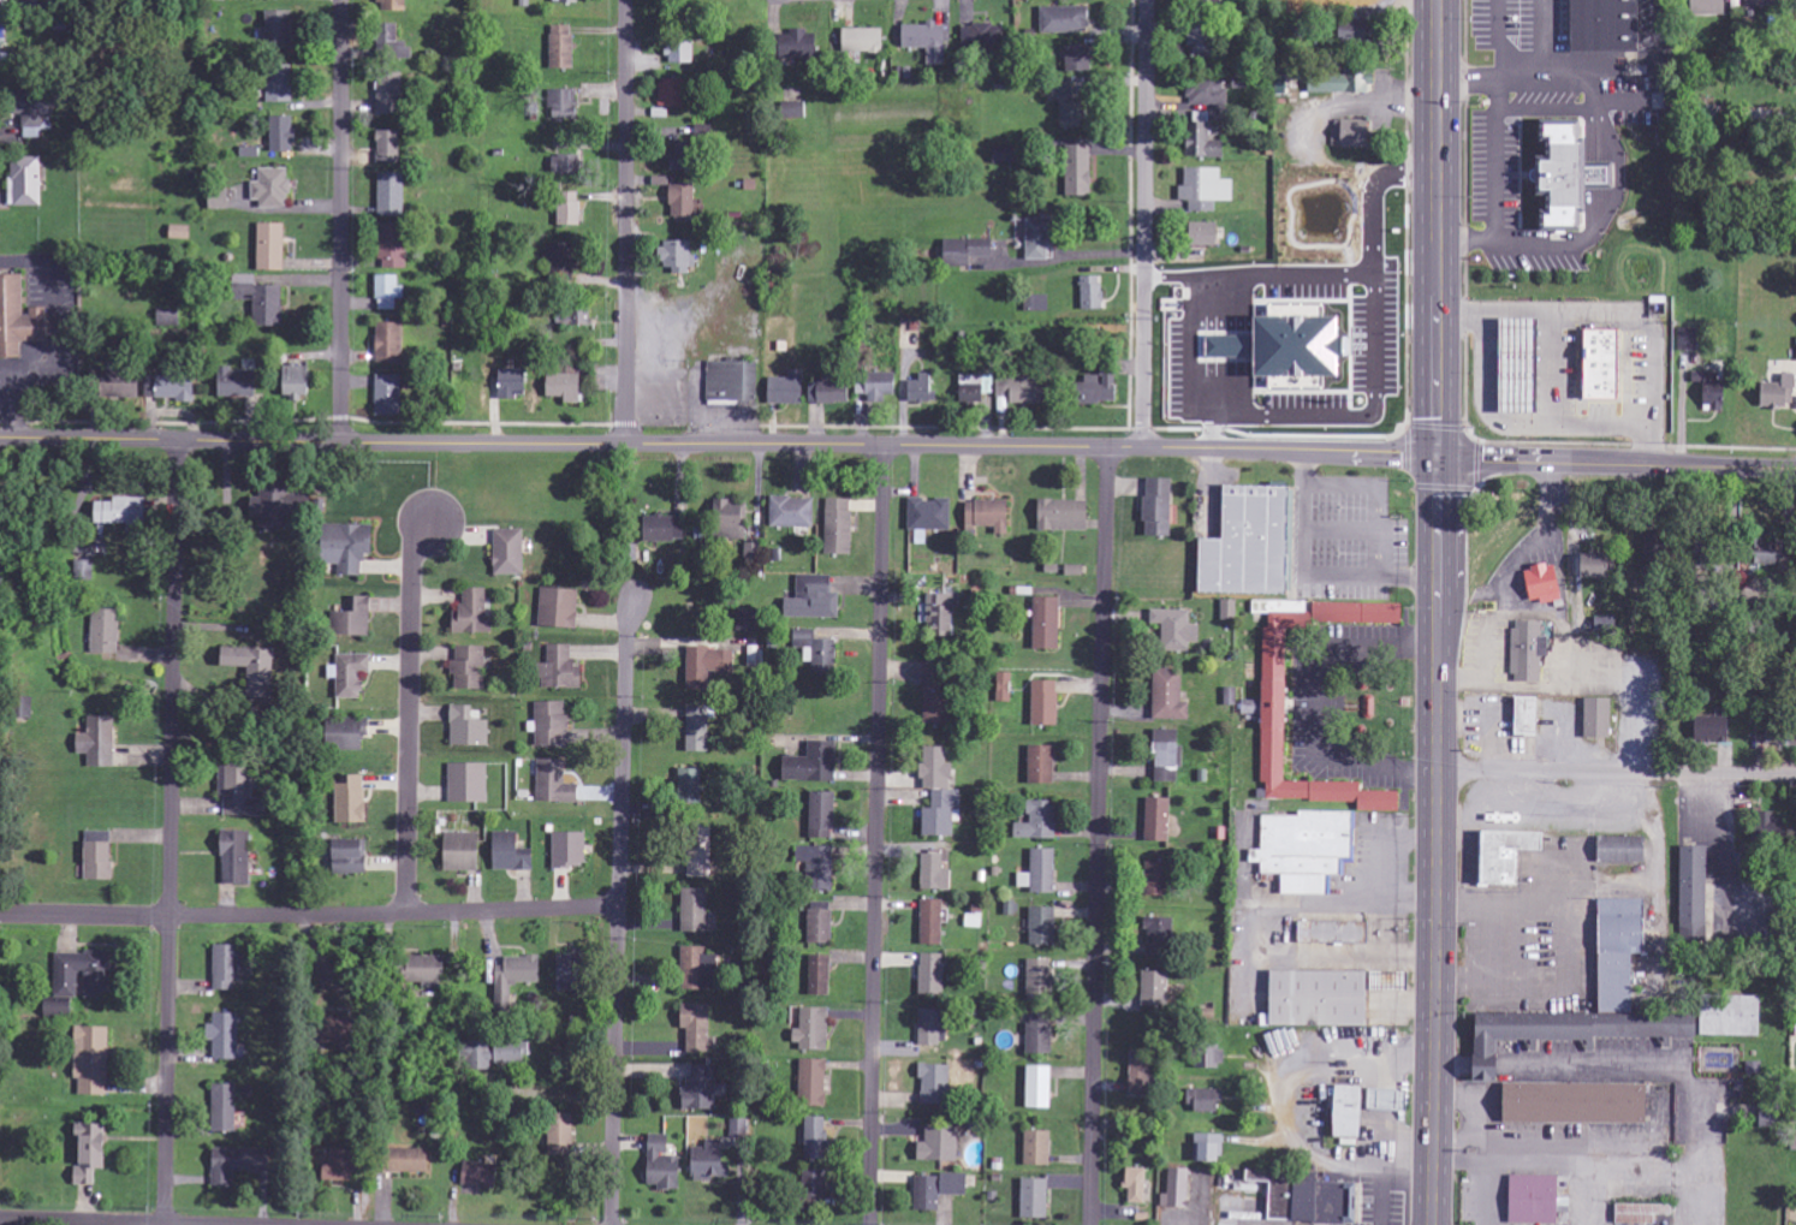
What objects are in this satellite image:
building: (697, 0)
building: (1202, 0)
building: (569, 1)
building: (5, 4)
building: (1752, 4)
building: (394, 6)
building: (1703, 7)
building: (1063, 20)
building: (280, 30)
building: (1348, 31)
building: (921, 34)
building: (985, 38)
building: (864, 40)
building: (394, 44)
building: (1197, 44)
building: (2, 48)
building: (563, 50)
building: (682, 54)
building: (1076, 58)
building: (1338, 82)
building: (281, 90)
building: (1203, 91)
building: (676, 95)
building: (389, 97)
building: (1064, 100)
building: (564, 107)
building: (797, 112)
building: (37, 113)
building: (1346, 133)
building: (283, 135)
building: (389, 148)
building: (1000, 154)
building: (685, 159)
building: (1075, 170)
building: (1558, 176)
building: (26, 183)
building: (273, 188)
building: (1203, 189)
building: (393, 195)
building: (685, 204)
building: (573, 214)
road: (339, 221)
road: (626, 222)
road: (1146, 224)
building: (182, 232)
building: (1201, 233)
building: (1034, 238)
building: (397, 245)
building: (272, 246)
building: (959, 251)
building: (680, 256)
building: (561, 260)
building: (389, 292)
building: (1088, 292)
building: (263, 302)
building: (1033, 303)
building: (19, 317)
building: (579, 317)
building: (170, 319)
building: (1684, 339)
building: (391, 343)
building: (1275, 346)
building: (1795, 347)
building: (1594, 364)
building: (1510, 365)
building: (299, 381)
building: (731, 381)
building: (115, 383)
building: (239, 383)
building: (513, 383)
building: (876, 386)
building: (171, 387)
building: (787, 388)
building: (970, 388)
building: (922, 389)
building: (1089, 389)
building: (1705, 389)
building: (1013, 391)
building: (831, 393)
building: (1772, 393)
building: (391, 396)
road: (718, 445)
traffic signals: (1437, 459)
road: (1540, 463)
road: (1720, 472)
road: (1552, 484)
building: (1154, 507)
building: (285, 509)
building: (124, 512)
building: (793, 512)
building: (930, 515)
building: (982, 515)
building: (1058, 515)
building: (731, 519)
road: (1522, 524)
building: (840, 527)
building: (667, 529)
building: (1243, 543)
building: (351, 547)
building: (512, 553)
building: (1756, 554)
building: (1584, 565)
building: (83, 571)
building: (1538, 583)
building: (823, 599)
building: (1225, 607)
building: (560, 608)
road: (1437, 612)
building: (474, 613)
building: (945, 614)
building: (355, 618)
building: (1042, 623)
building: (1598, 624)
building: (1173, 630)
building: (106, 631)
building: (817, 650)
building: (1524, 650)
building: (470, 667)
building: (709, 667)
building: (564, 668)
building: (255, 672)
building: (352, 674)
building: (1269, 678)
building: (1165, 695)
building: (938, 696)
building: (1040, 703)
building: (1244, 707)
building: (1522, 716)
road: (410, 718)
building: (1593, 719)
building: (551, 724)
building: (469, 729)
building: (1709, 729)
building: (105, 730)
building: (698, 730)
building: (351, 733)
building: (1788, 738)
building: (1161, 756)
building: (815, 765)
building: (1036, 765)
road: (1616, 772)
building: (469, 783)
building: (555, 783)
building: (692, 785)
building: (239, 792)
building: (941, 793)
building: (352, 801)
building: (823, 816)
building: (1154, 820)
building: (1034, 821)
building: (1762, 822)
road: (171, 832)
road: (878, 836)
road: (1100, 836)
building: (570, 850)
building: (1303, 850)
building: (1618, 850)
building: (464, 852)
building: (512, 854)
building: (100, 856)
building: (1500, 856)
building: (352, 857)
building: (237, 858)
building: (700, 862)
building: (819, 867)
building: (1036, 872)
building: (936, 874)
building: (1152, 879)
building: (1689, 893)
building: (696, 910)
road: (617, 911)
road: (309, 917)
building: (933, 922)
building: (822, 923)
building: (1039, 926)
building: (1155, 930)
building: (1327, 933)
building: (1614, 952)
building: (228, 968)
building: (572, 969)
building: (429, 970)
building: (700, 970)
building: (933, 974)
building: (85, 975)
building: (820, 976)
building: (1036, 976)
building: (515, 979)
building: (1153, 989)
building: (1321, 997)
building: (60, 1009)
building: (1727, 1016)
building: (698, 1028)
building: (929, 1029)
building: (814, 1030)
building: (1559, 1031)
building: (1035, 1034)
building: (228, 1037)
building: (499, 1054)
building: (1205, 1057)
building: (91, 1063)
building: (1136, 1072)
building: (814, 1083)
building: (936, 1084)
building: (1034, 1087)
building: (701, 1089)
building: (1200, 1100)
building: (1379, 1100)
building: (1570, 1104)
building: (226, 1108)
building: (1342, 1112)
building: (1795, 1120)
building: (816, 1138)
building: (1792, 1143)
building: (558, 1144)
building: (941, 1146)
building: (1206, 1147)
building: (1033, 1148)
building: (93, 1153)
building: (718, 1154)
building: (415, 1161)
building: (239, 1164)
building: (346, 1165)
building: (665, 1165)
building: (482, 1176)
building: (819, 1184)
building: (1134, 1185)
building: (1173, 1189)
building: (939, 1190)
building: (1030, 1199)
building: (1301, 1199)
building: (1528, 1200)
building: (1637, 1214)
road: (83, 1221)

